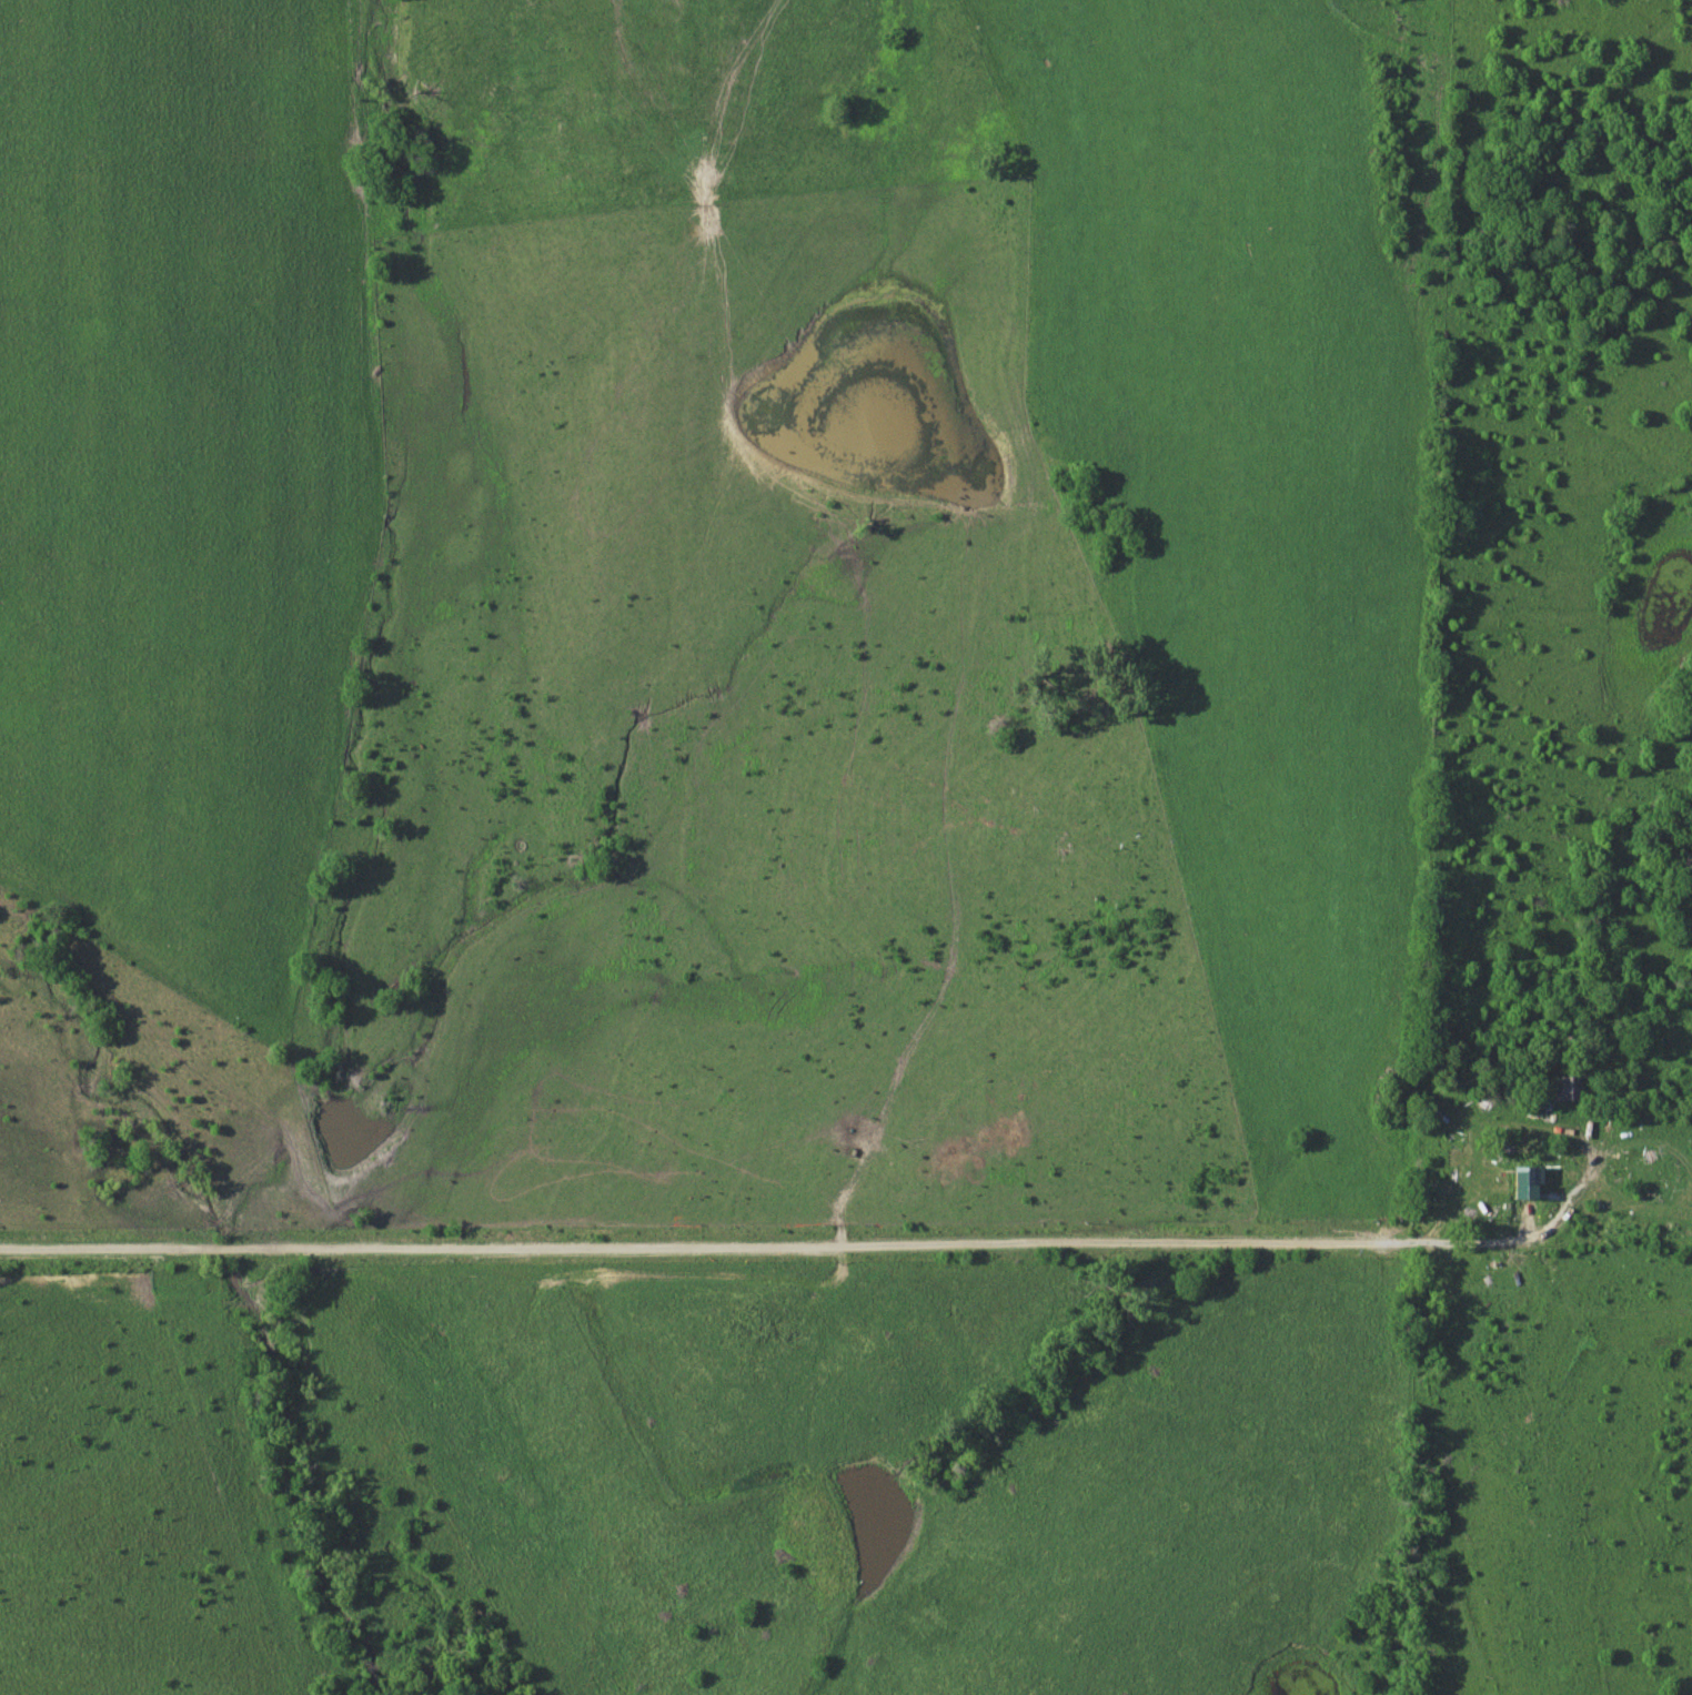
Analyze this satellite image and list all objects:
building: (1561, 1090)
road: (689, 1248)

